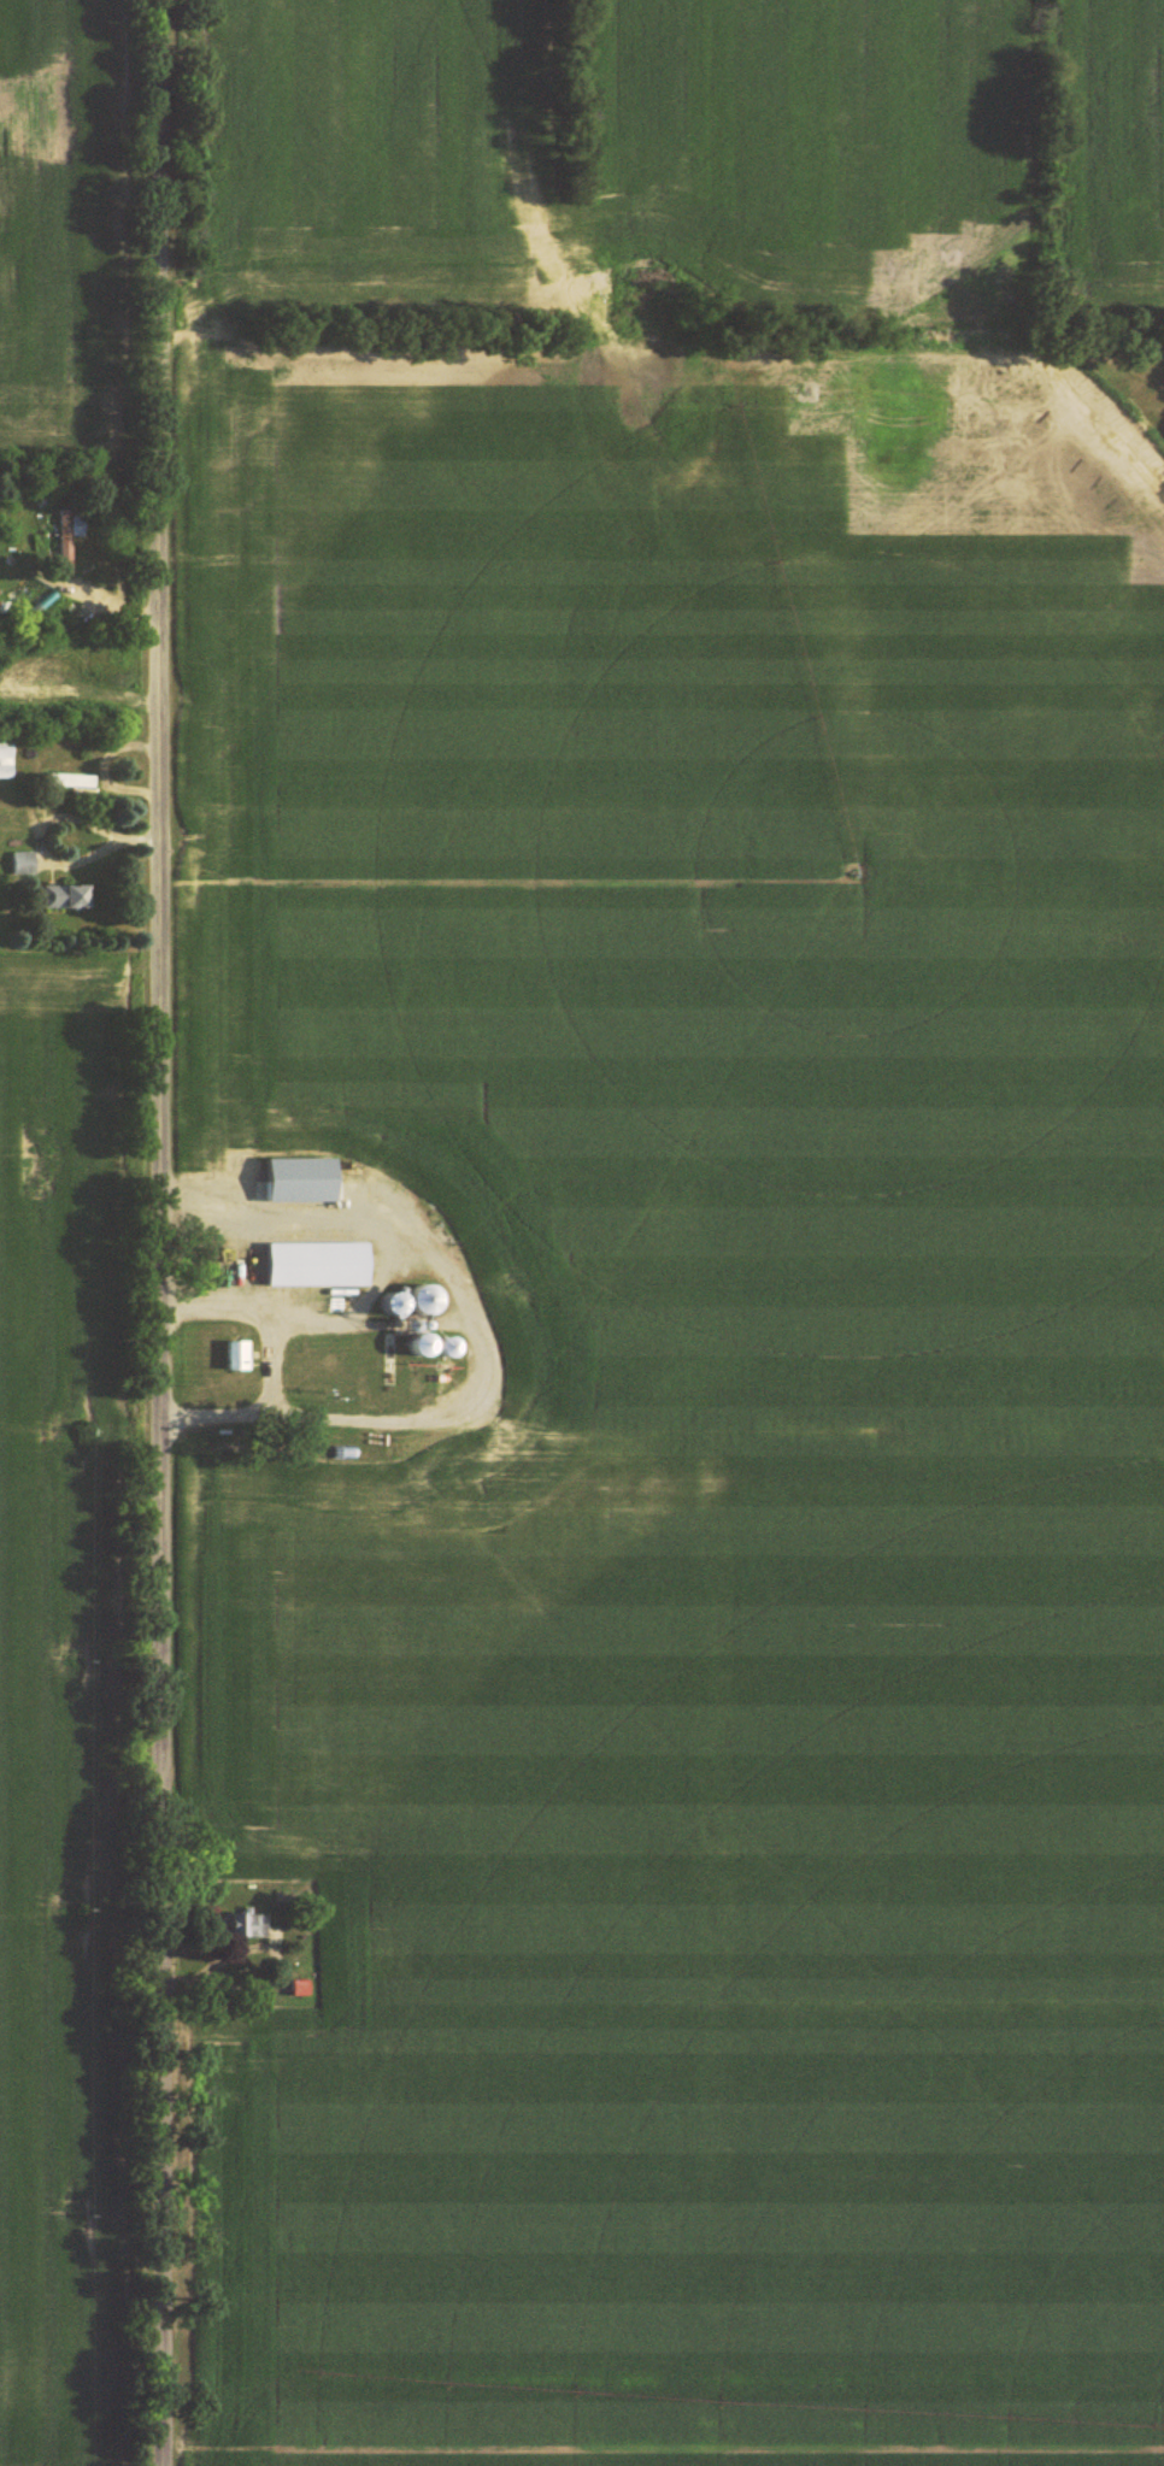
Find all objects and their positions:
building: (66, 534)
building: (6, 758)
building: (65, 782)
building: (24, 864)
building: (67, 897)
road: (167, 1232)
building: (317, 1264)
building: (427, 1343)
building: (239, 1354)
building: (393, 1358)
building: (248, 1924)

